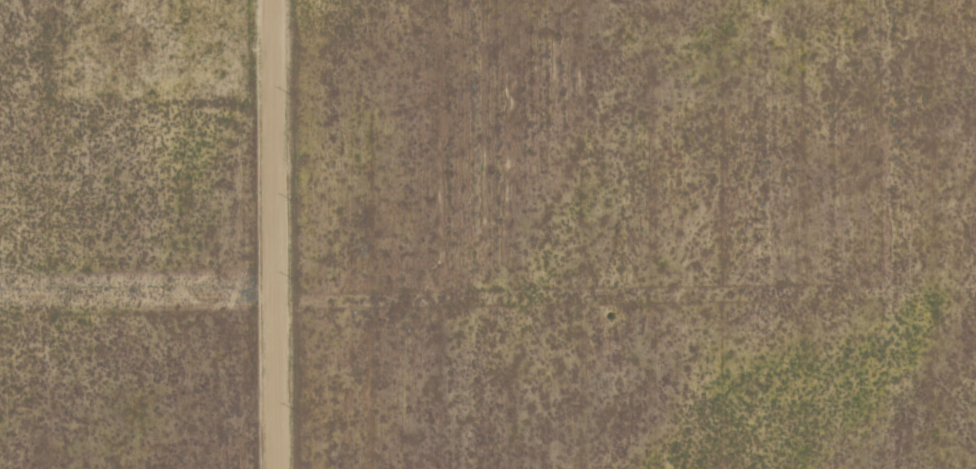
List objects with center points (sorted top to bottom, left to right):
road: (285, 234)

